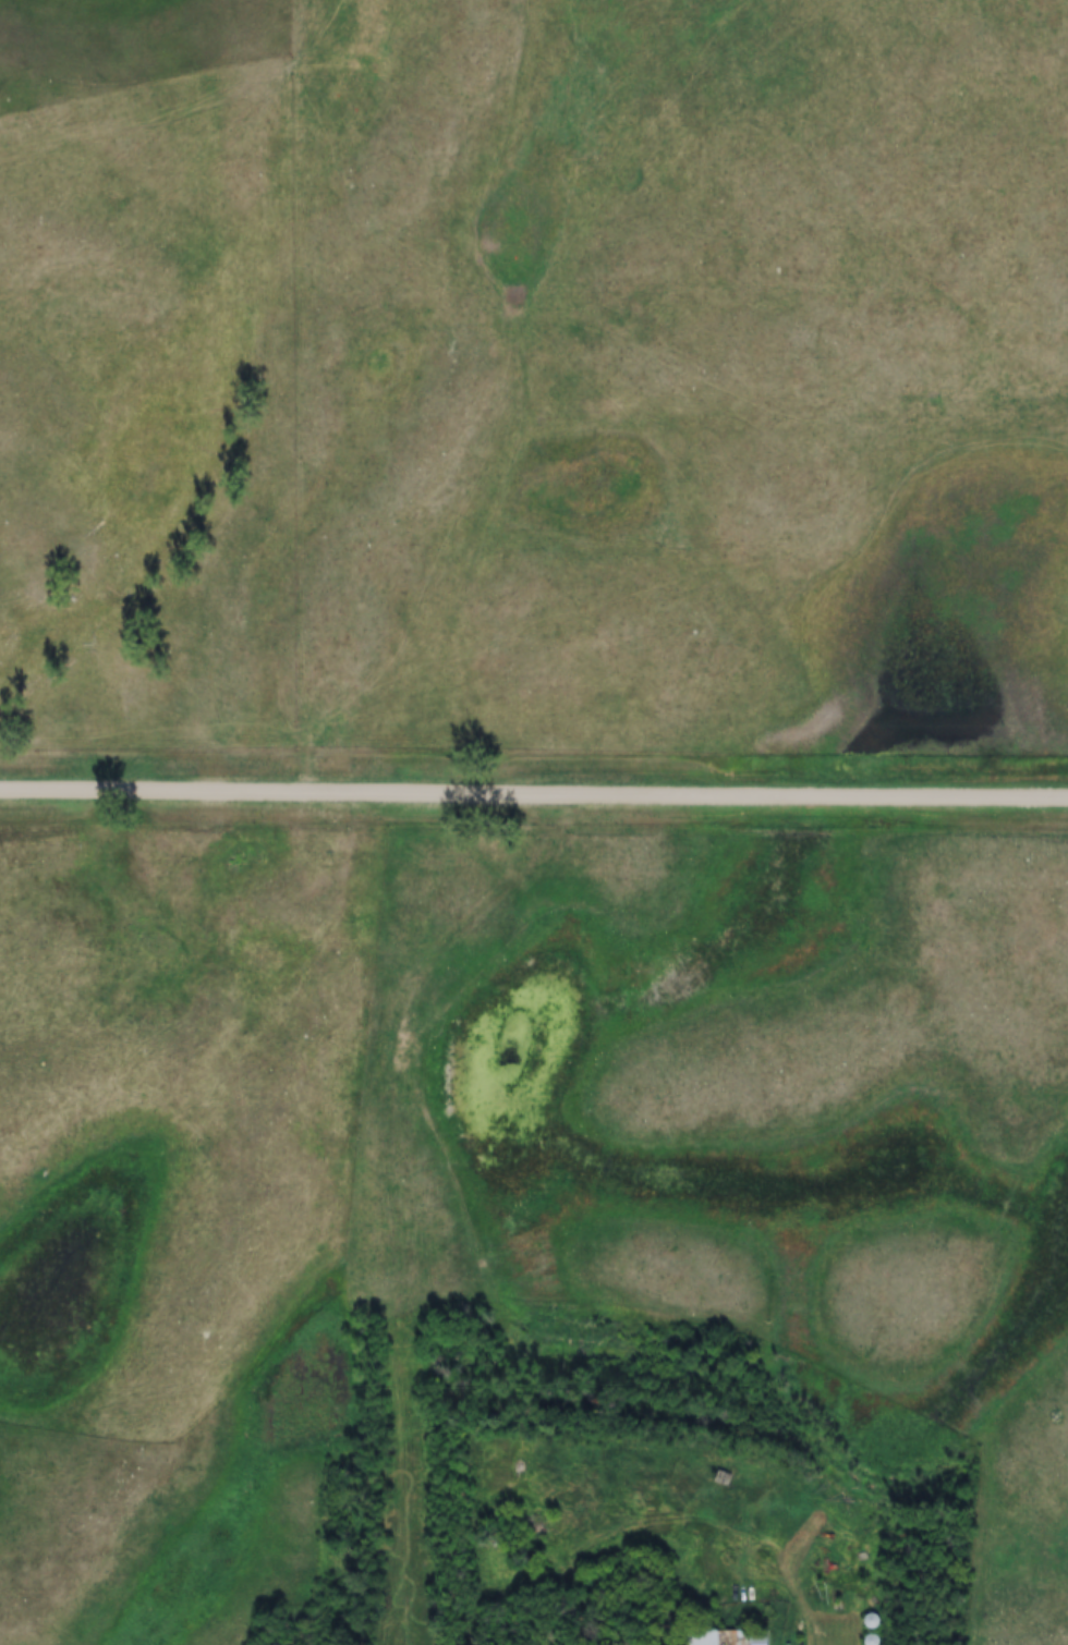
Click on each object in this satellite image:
road: (534, 792)
building: (723, 1478)
building: (728, 1637)

